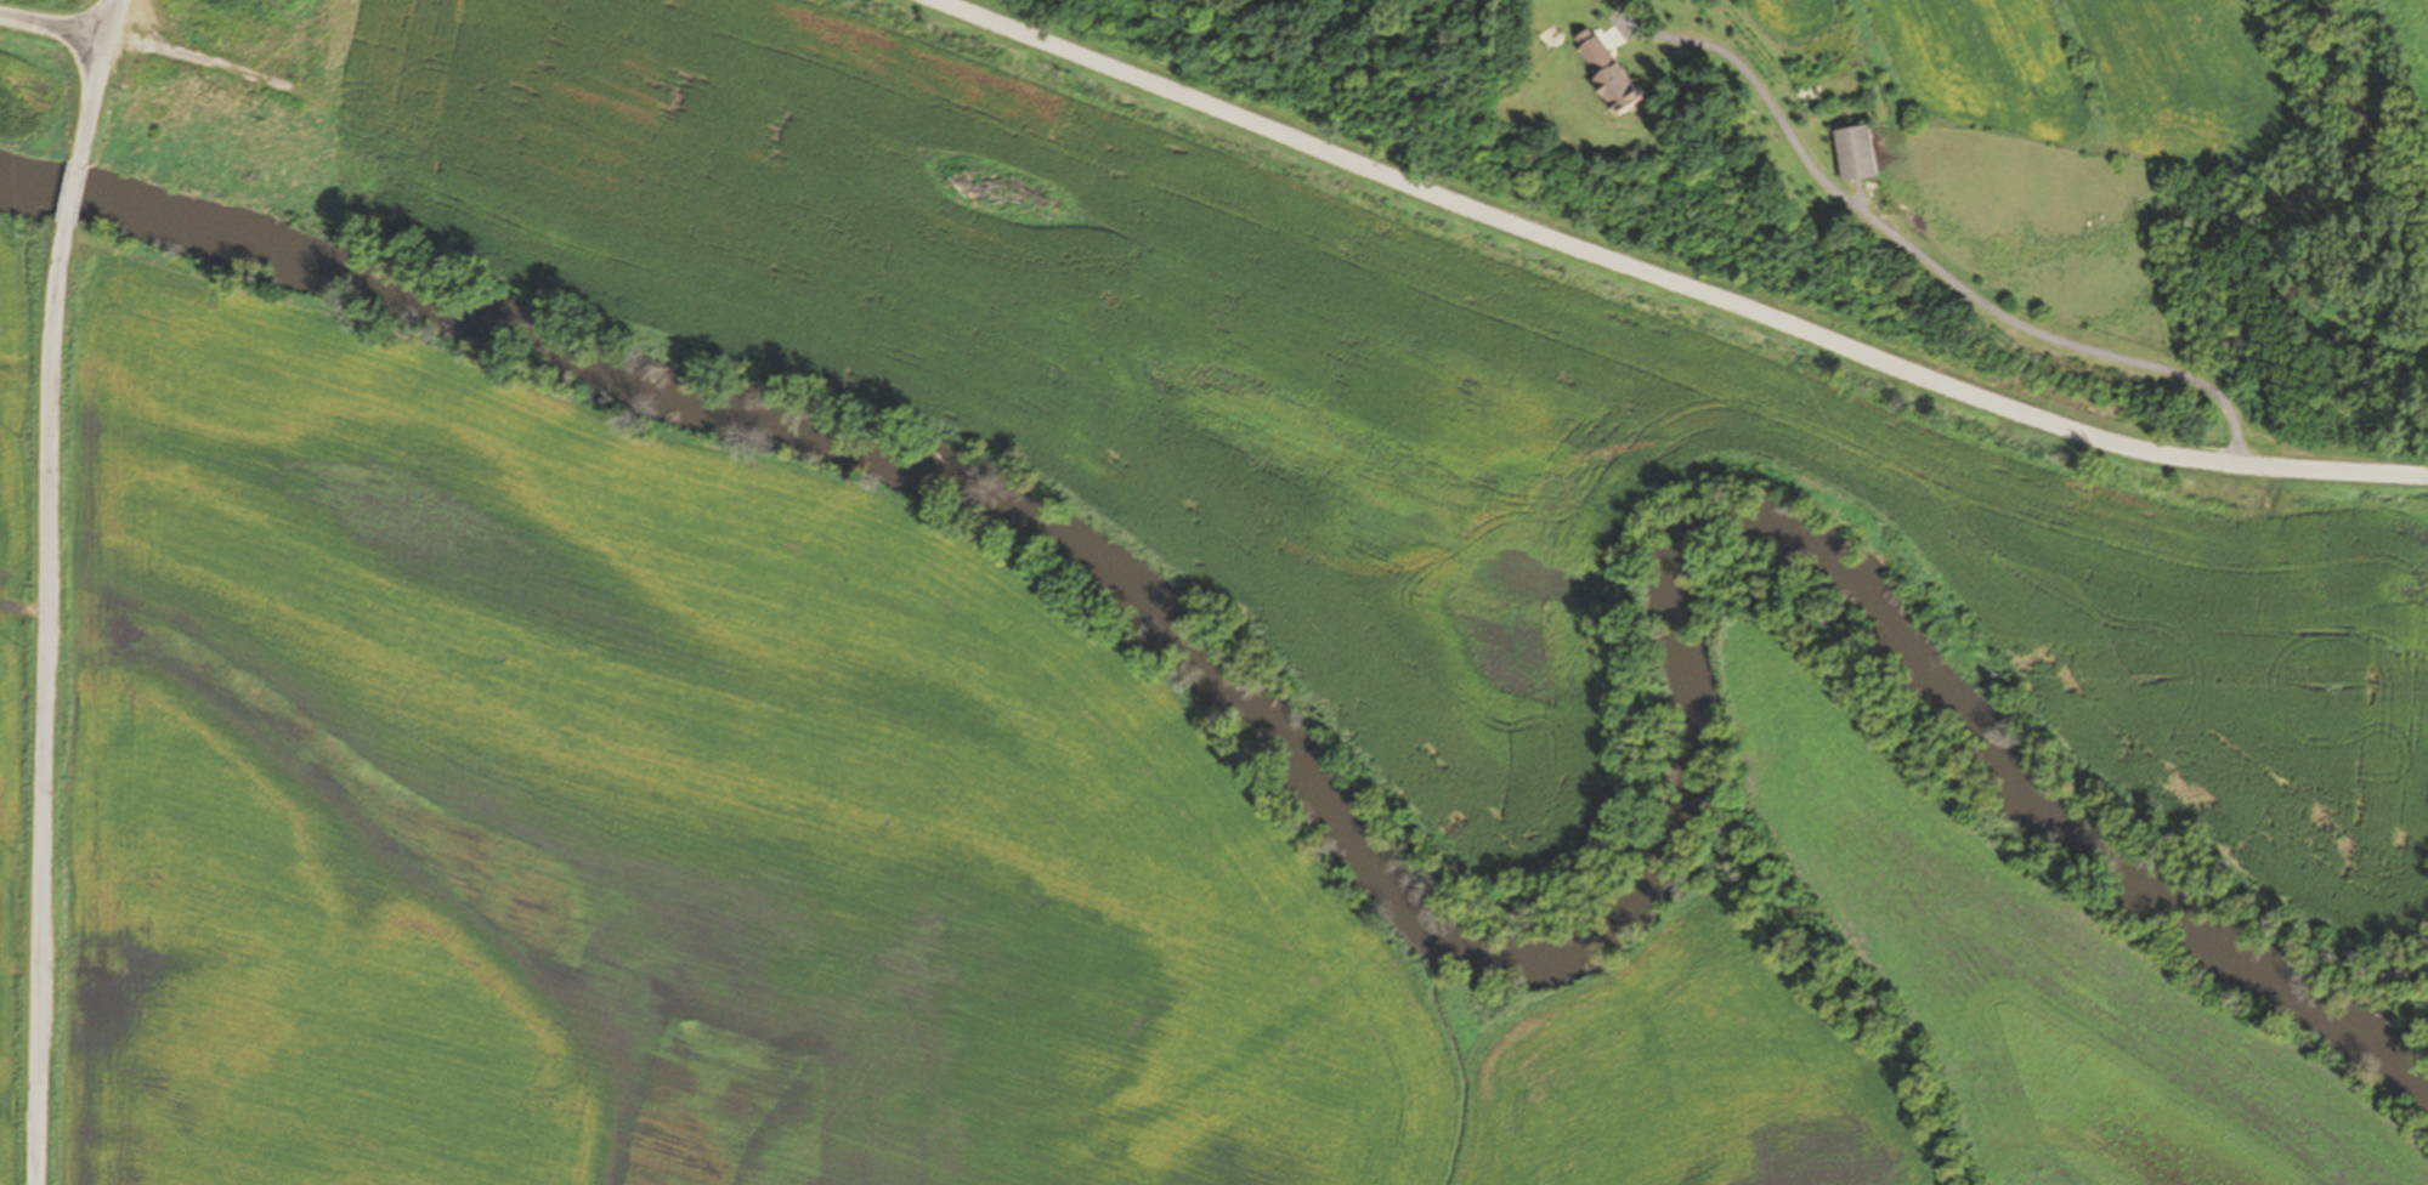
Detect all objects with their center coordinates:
road: (52, 24)
building: (1603, 73)
road: (95, 81)
building: (1855, 152)
road: (68, 200)
road: (1922, 259)
road: (1669, 280)
road: (44, 710)
river: (1375, 881)

